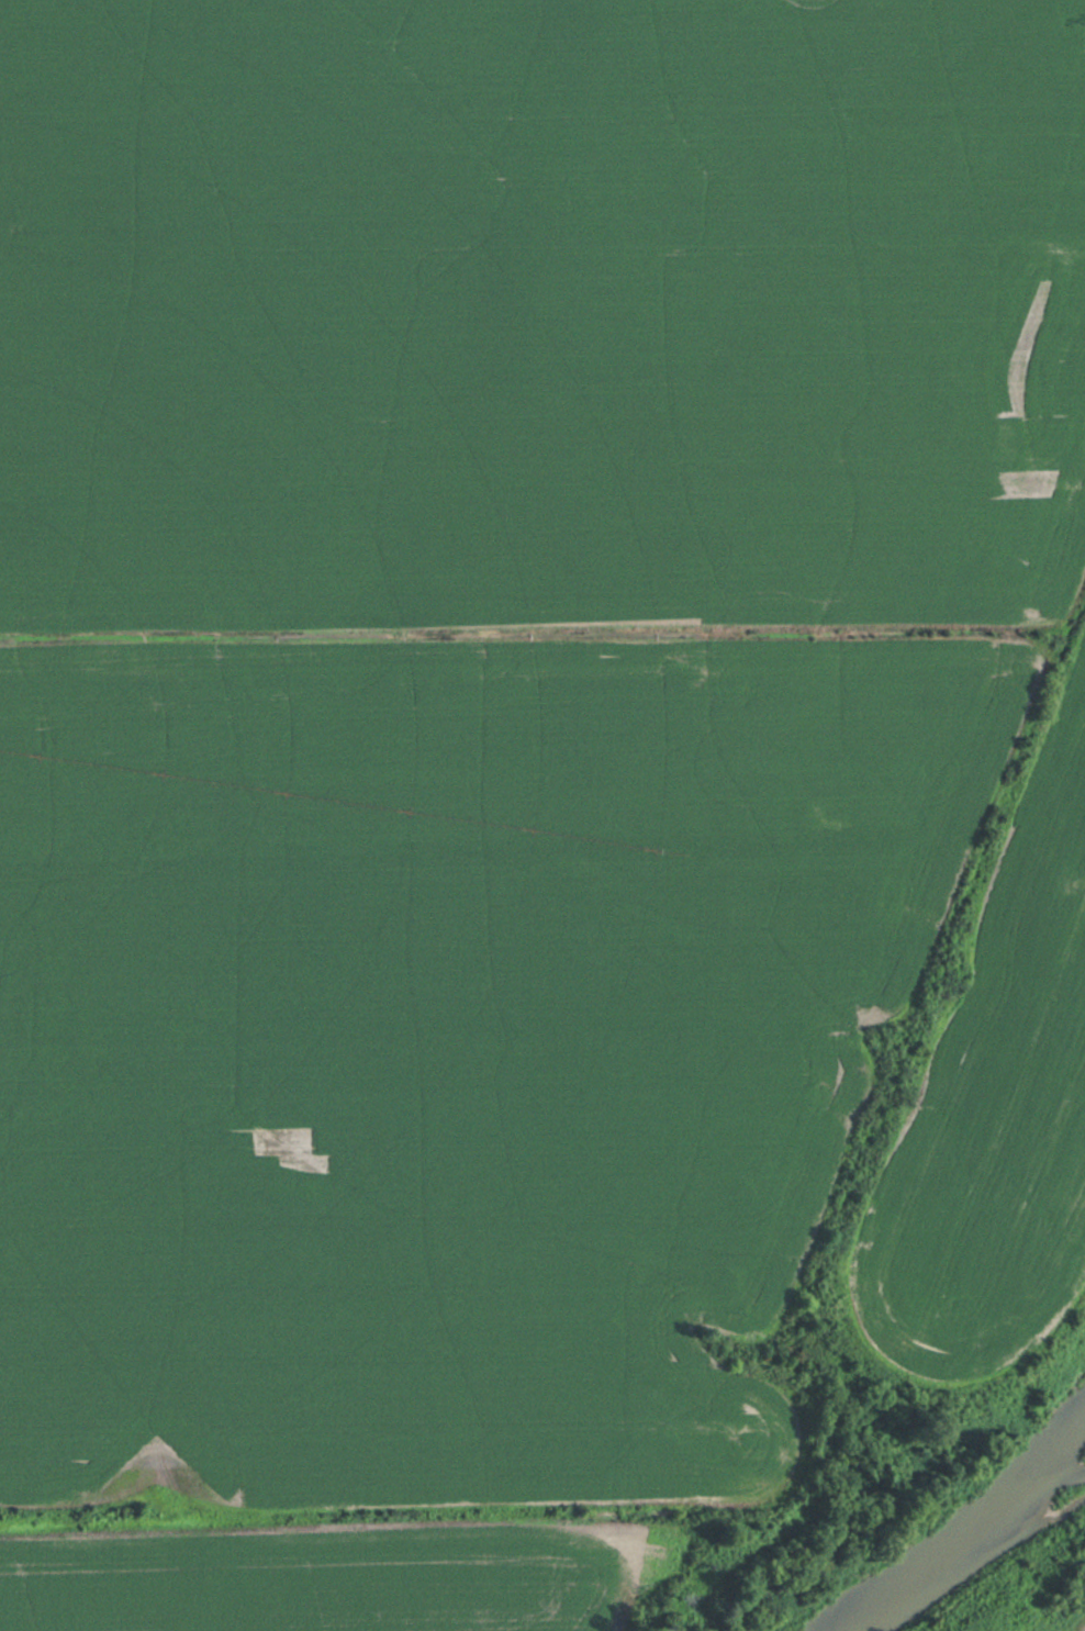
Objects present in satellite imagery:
river: (961, 1523)

